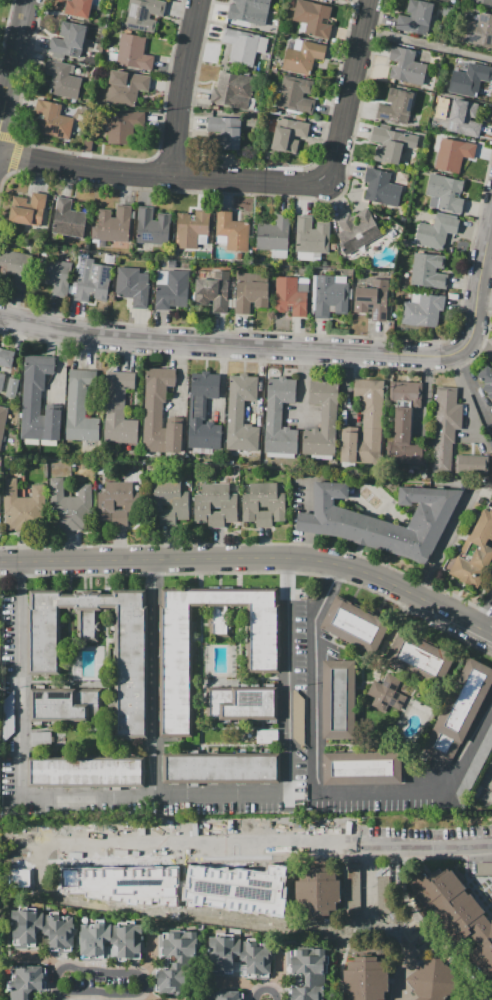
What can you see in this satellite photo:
building: (336, 0)
building: (483, 1)
building: (290, 3)
building: (78, 8)
building: (246, 11)
building: (143, 14)
road: (378, 16)
park: (3, 17)
building: (416, 17)
building: (106, 18)
building: (257, 18)
building: (313, 18)
road: (6, 28)
building: (479, 30)
building: (128, 31)
building: (67, 41)
road: (428, 45)
building: (243, 46)
building: (133, 52)
building: (302, 56)
building: (111, 57)
building: (38, 62)
building: (406, 66)
road: (14, 68)
building: (38, 68)
building: (77, 71)
building: (275, 72)
building: (63, 79)
building: (469, 79)
building: (125, 87)
road: (183, 87)
road: (351, 90)
building: (234, 91)
building: (295, 95)
building: (73, 101)
building: (396, 106)
building: (463, 118)
building: (53, 120)
building: (123, 126)
building: (226, 132)
building: (288, 134)
building: (391, 144)
building: (87, 145)
road: (16, 147)
building: (453, 154)
road: (93, 155)
road: (173, 156)
road: (257, 166)
road: (162, 176)
building: (381, 187)
building: (446, 192)
road: (251, 194)
building: (28, 209)
building: (68, 219)
building: (400, 219)
building: (113, 225)
building: (152, 227)
building: (191, 228)
building: (357, 230)
building: (232, 231)
road: (489, 231)
building: (436, 232)
building: (274, 234)
building: (312, 235)
building: (102, 244)
building: (278, 254)
building: (308, 255)
building: (262, 258)
building: (172, 263)
building: (16, 267)
building: (428, 271)
building: (55, 275)
building: (162, 277)
building: (405, 278)
building: (142, 279)
building: (340, 279)
building: (92, 280)
building: (302, 280)
building: (131, 287)
building: (173, 291)
building: (314, 291)
building: (213, 292)
building: (250, 293)
building: (289, 296)
building: (330, 296)
building: (416, 298)
building: (373, 299)
road: (477, 299)
building: (423, 311)
road: (320, 334)
road: (190, 343)
road: (480, 348)
road: (419, 354)
building: (6, 357)
road: (274, 360)
road: (60, 363)
road: (180, 376)
building: (486, 380)
building: (2, 382)
road: (302, 382)
road: (222, 383)
road: (260, 385)
building: (11, 387)
road: (348, 387)
road: (474, 391)
building: (404, 392)
road: (425, 393)
building: (38, 401)
building: (81, 404)
building: (118, 408)
building: (203, 411)
building: (159, 412)
building: (242, 414)
building: (279, 416)
road: (301, 416)
building: (322, 419)
building: (3, 422)
building: (366, 425)
building: (445, 428)
building: (406, 440)
building: (491, 444)
building: (231, 462)
building: (472, 464)
building: (156, 502)
building: (109, 503)
building: (128, 503)
building: (177, 503)
building: (254, 504)
building: (273, 504)
building: (206, 505)
building: (225, 505)
building: (12, 506)
building: (59, 506)
building: (81, 508)
building: (34, 509)
building: (383, 521)
road: (444, 542)
road: (253, 544)
building: (475, 552)
road: (212, 557)
road: (19, 567)
road: (255, 572)
road: (447, 611)
road: (485, 613)
building: (355, 625)
road: (485, 630)
building: (176, 655)
building: (131, 658)
building: (420, 659)
road: (287, 676)
road: (156, 678)
road: (316, 678)
building: (386, 693)
building: (338, 699)
building: (241, 703)
building: (65, 704)
building: (459, 712)
building: (299, 720)
building: (266, 737)
building: (41, 739)
road: (464, 750)
building: (474, 764)
building: (221, 768)
building: (363, 768)
building: (86, 772)
parking lot: (486, 788)
road: (372, 794)
road: (45, 797)
road: (185, 840)
parking lot: (297, 840)
road: (338, 842)
building: (484, 868)
road: (368, 879)
building: (233, 882)
building: (100, 885)
building: (382, 888)
building: (354, 889)
building: (317, 891)
building: (455, 911)
building: (26, 927)
building: (59, 929)
building: (111, 939)
building: (241, 955)
road: (40, 956)
road: (151, 958)
building: (176, 961)
road: (279, 972)
building: (309, 973)
road: (137, 974)
building: (100, 978)
building: (366, 979)
building: (432, 980)
building: (25, 981)
road: (237, 982)
road: (265, 989)
road: (58, 994)
road: (146, 994)
building: (226, 995)
road: (489, 998)

